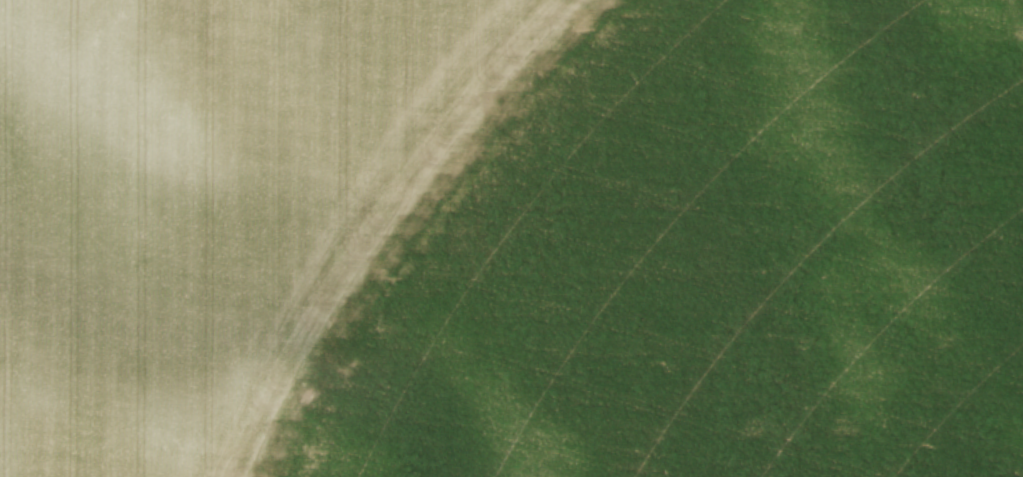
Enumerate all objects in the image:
crop: (511, 238)

